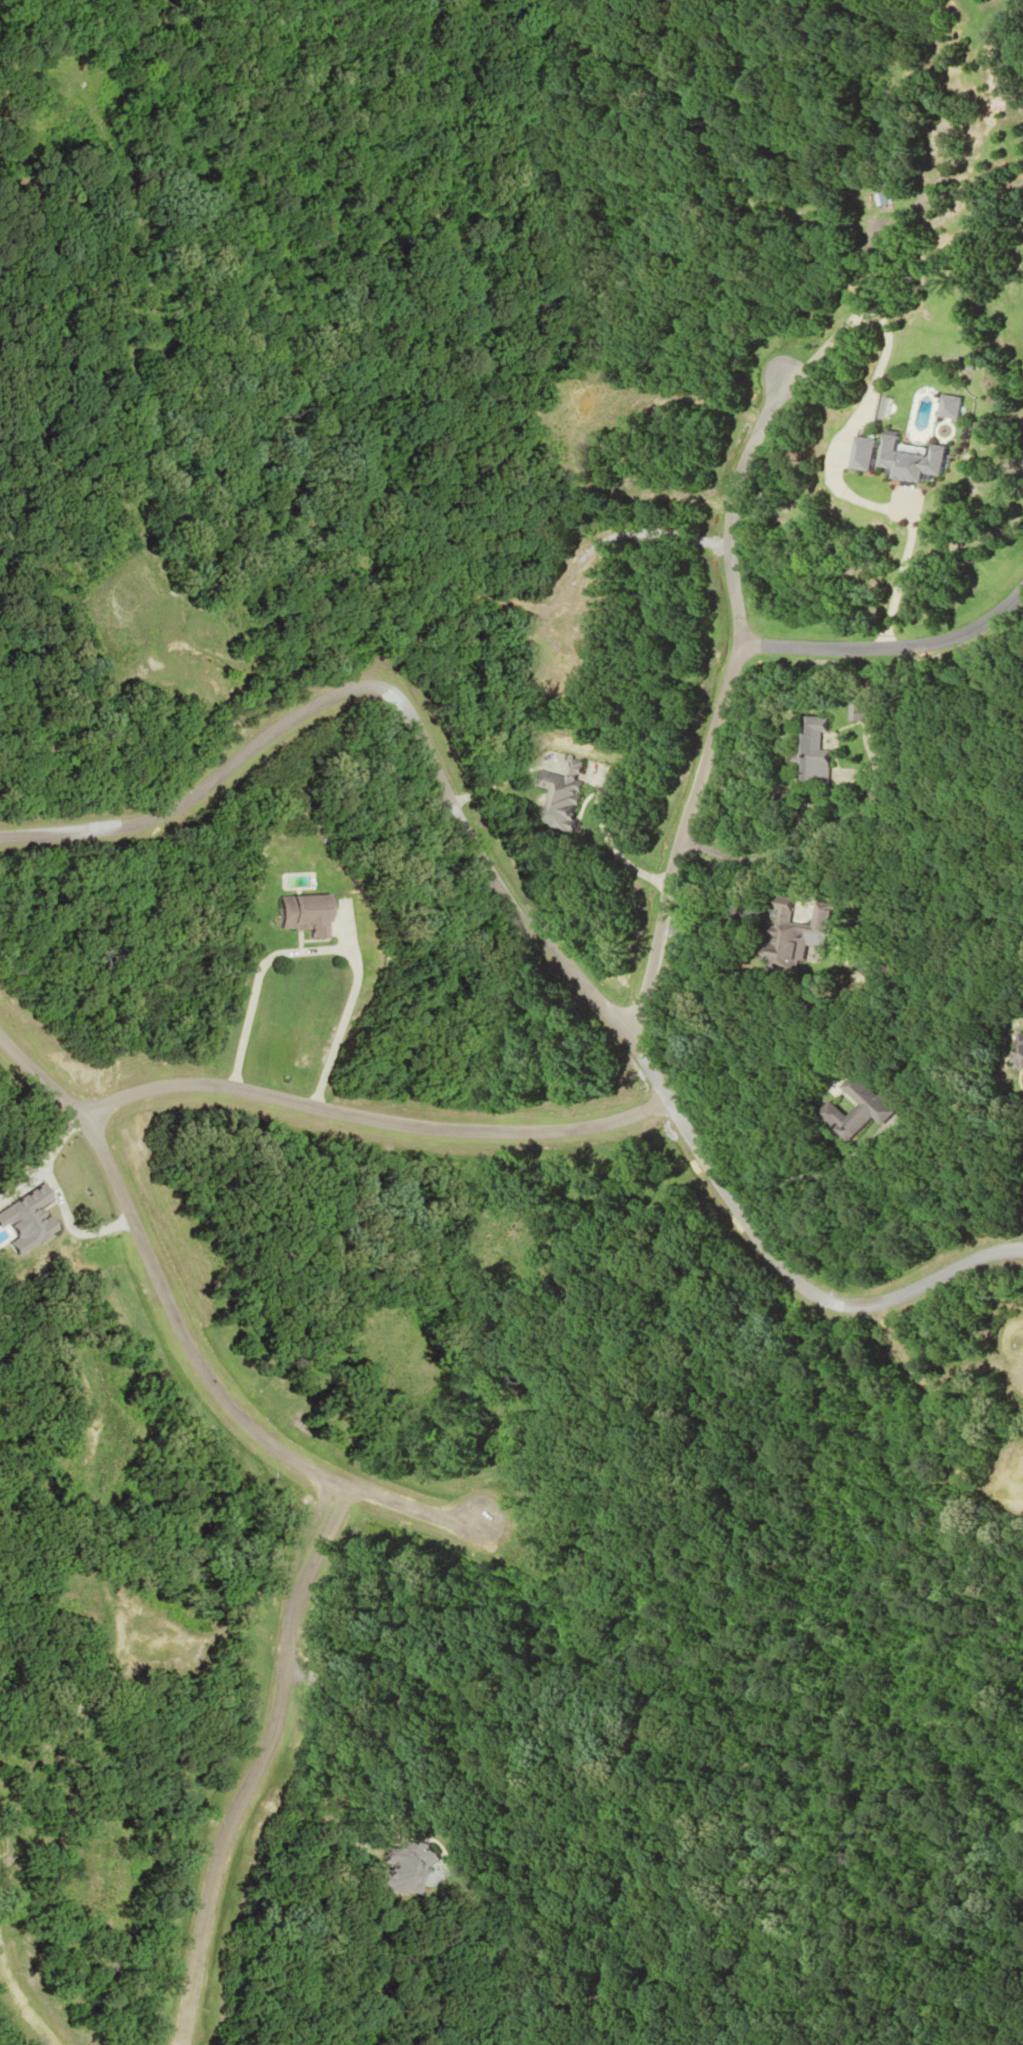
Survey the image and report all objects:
building: (63, 98)
building: (949, 406)
building: (862, 452)
building: (910, 458)
road: (727, 508)
road: (718, 696)
building: (856, 711)
building: (812, 751)
building: (556, 795)
building: (291, 914)
road: (525, 916)
building: (789, 934)
building: (1016, 1053)
building: (853, 1109)
road: (372, 1117)
road: (1022, 1245)
road: (192, 1325)
road: (271, 1762)
building: (402, 1867)

